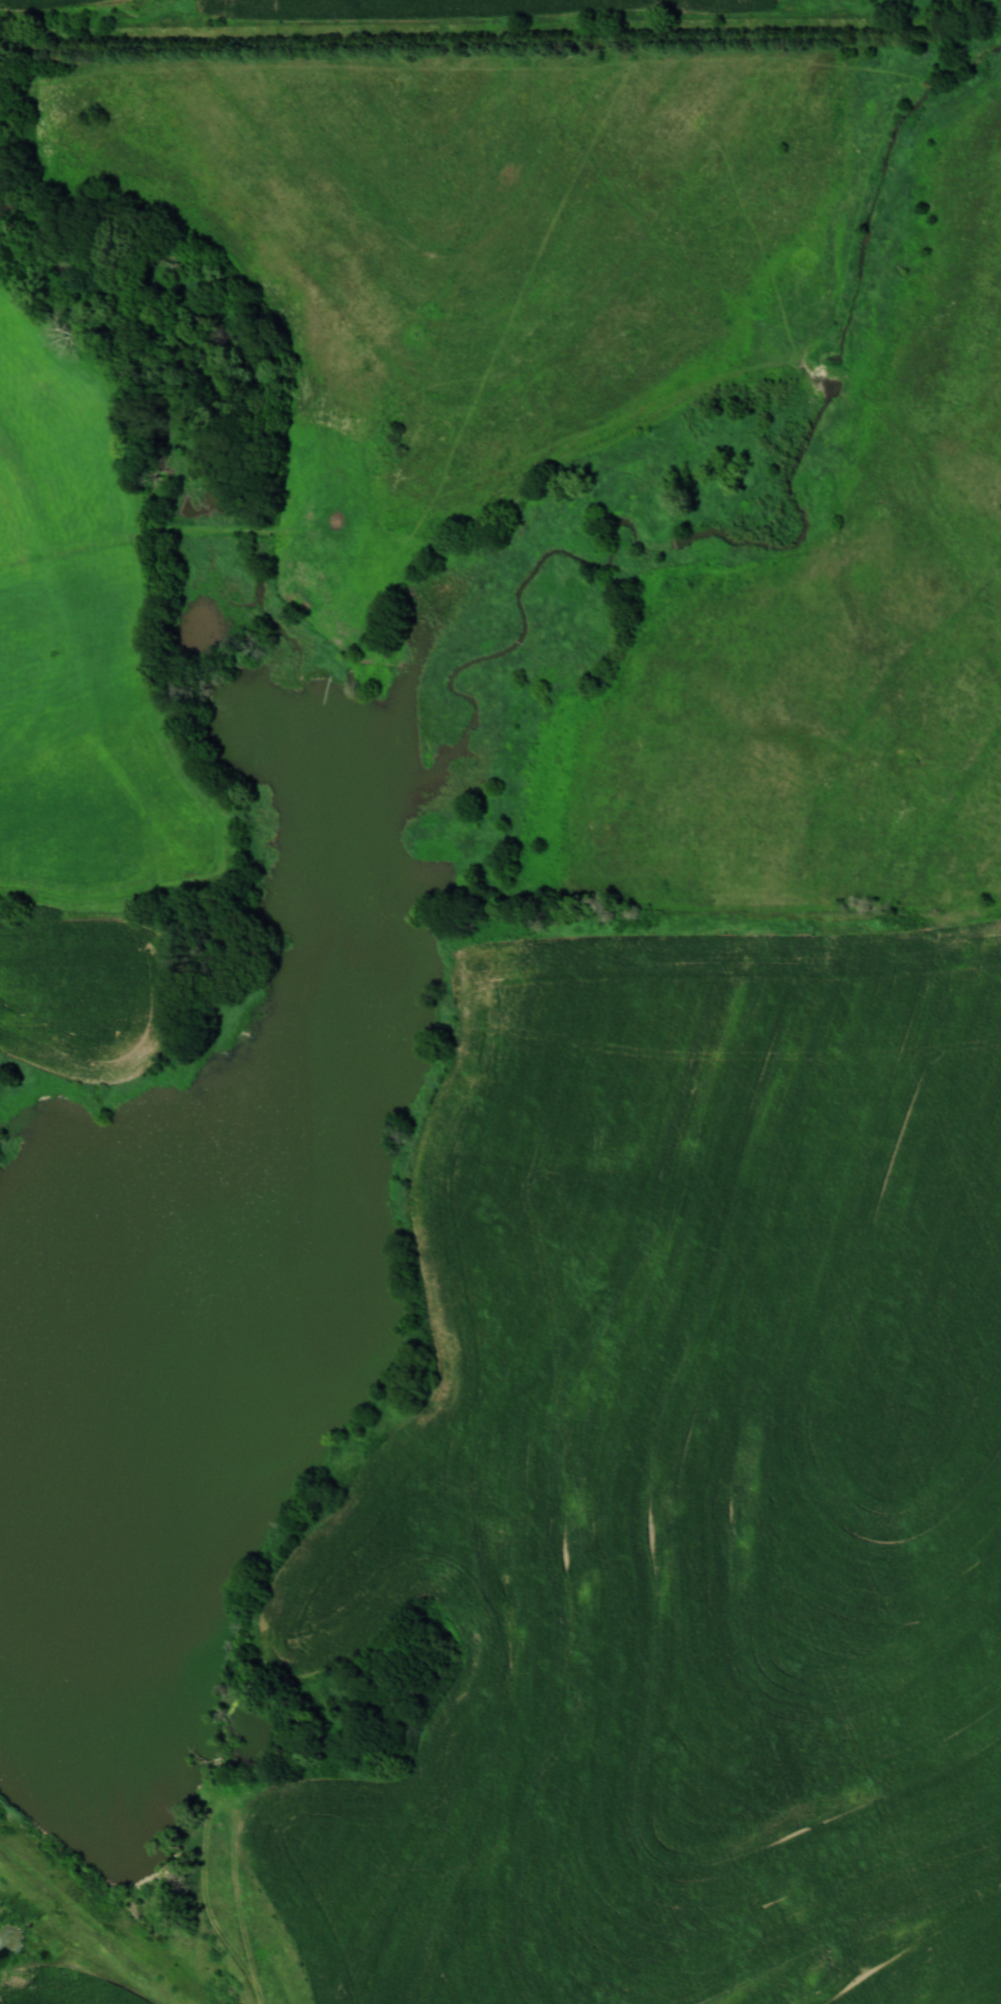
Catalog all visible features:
dam: (58, 1829)
road: (228, 1967)

